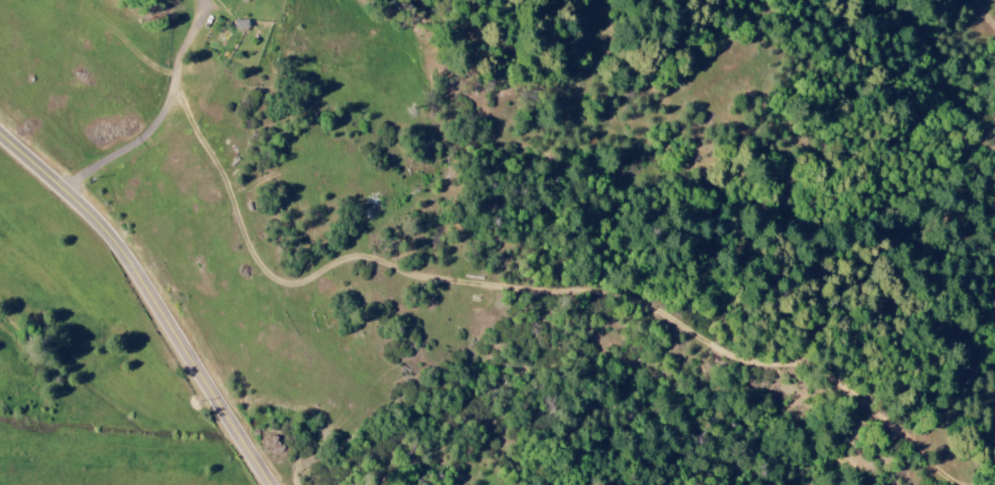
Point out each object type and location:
road: (993, 2)
road: (155, 292)

